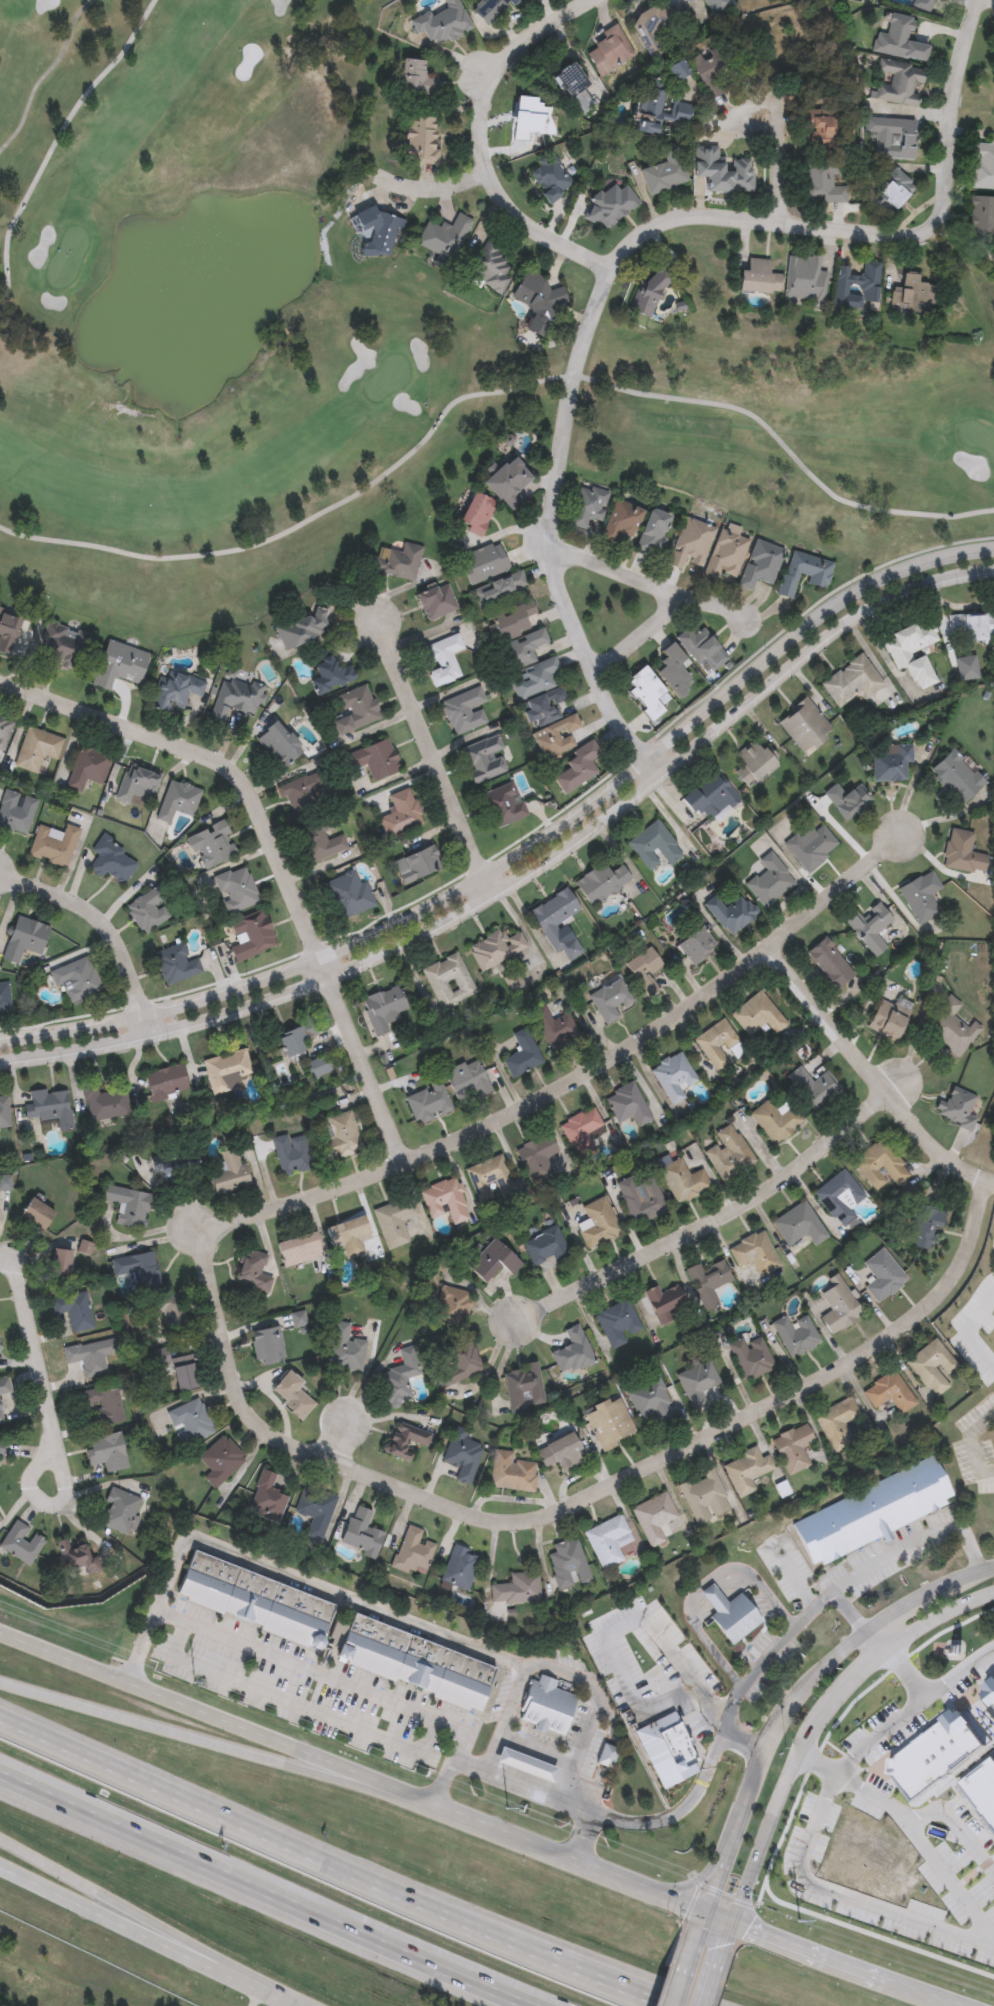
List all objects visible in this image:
building: (690, 1)
building: (925, 4)
building: (719, 7)
building: (491, 10)
building: (444, 25)
building: (656, 29)
building: (899, 41)
building: (781, 45)
building: (610, 52)
building: (710, 68)
building: (678, 72)
road: (45, 77)
building: (414, 80)
building: (899, 86)
building: (574, 88)
road: (776, 111)
building: (655, 112)
building: (826, 129)
building: (893, 138)
building: (420, 141)
road: (54, 143)
building: (983, 166)
building: (667, 173)
building: (723, 173)
building: (550, 180)
building: (823, 183)
road: (432, 188)
building: (895, 190)
building: (611, 206)
road: (684, 218)
building: (981, 221)
building: (379, 232)
building: (446, 238)
park: (67, 258)
building: (492, 269)
building: (759, 279)
building: (805, 281)
building: (858, 289)
building: (913, 297)
building: (538, 303)
park: (352, 342)
park: (388, 379)
road: (490, 394)
park: (978, 438)
building: (508, 485)
building: (587, 508)
building: (476, 516)
road: (553, 524)
building: (620, 524)
building: (654, 535)
building: (690, 546)
building: (725, 557)
building: (396, 564)
building: (482, 566)
building: (760, 567)
building: (803, 575)
road: (648, 585)
building: (499, 591)
building: (435, 603)
building: (512, 623)
building: (971, 630)
building: (301, 632)
building: (7, 633)
road: (642, 638)
building: (63, 649)
building: (700, 650)
building: (522, 652)
building: (912, 654)
building: (440, 662)
building: (117, 667)
building: (672, 672)
building: (328, 675)
building: (533, 682)
building: (851, 683)
building: (173, 692)
building: (644, 694)
building: (235, 700)
building: (354, 712)
building: (464, 713)
building: (4, 734)
building: (278, 747)
building: (36, 752)
building: (375, 761)
road: (435, 761)
building: (88, 769)
road: (654, 770)
building: (135, 787)
building: (301, 795)
building: (177, 803)
building: (16, 814)
building: (400, 816)
road: (275, 851)
road: (526, 851)
road: (527, 877)
road: (105, 925)
building: (880, 1024)
building: (942, 1037)
road: (878, 1072)
road: (580, 1082)
building: (799, 1094)
building: (949, 1113)
building: (767, 1127)
building: (729, 1153)
building: (290, 1155)
building: (536, 1159)
building: (175, 1165)
building: (869, 1168)
building: (230, 1173)
building: (489, 1178)
building: (682, 1179)
building: (5, 1183)
building: (641, 1198)
building: (445, 1200)
building: (832, 1203)
building: (129, 1205)
building: (36, 1213)
building: (394, 1222)
building: (598, 1223)
building: (791, 1230)
road: (707, 1231)
building: (917, 1233)
building: (350, 1236)
building: (545, 1246)
building: (300, 1250)
building: (745, 1260)
building: (493, 1262)
building: (60, 1263)
road: (8, 1264)
building: (138, 1270)
building: (253, 1271)
building: (873, 1282)
building: (709, 1283)
building: (697, 1290)
building: (453, 1304)
building: (658, 1306)
building: (838, 1306)
building: (171, 1310)
building: (73, 1311)
building: (297, 1319)
building: (617, 1323)
building: (795, 1335)
building: (267, 1346)
building: (345, 1348)
building: (0, 1349)
building: (573, 1351)
building: (90, 1357)
building: (751, 1357)
building: (460, 1363)
road: (36, 1369)
building: (183, 1373)
building: (923, 1373)
building: (400, 1378)
building: (697, 1382)
building: (523, 1388)
building: (291, 1394)
building: (4, 1396)
building: (881, 1399)
building: (650, 1401)
building: (102, 1404)
building: (190, 1422)
building: (609, 1423)
building: (829, 1428)
road: (346, 1430)
building: (404, 1441)
road: (974, 1444)
building: (1, 1448)
building: (108, 1452)
building: (559, 1452)
building: (461, 1456)
building: (785, 1456)
building: (220, 1461)
building: (511, 1472)
building: (737, 1477)
building: (267, 1498)
road: (24, 1500)
building: (695, 1502)
road: (586, 1503)
building: (120, 1511)
building: (314, 1512)
building: (871, 1512)
building: (0, 1519)
building: (648, 1523)
building: (361, 1533)
building: (21, 1542)
road: (919, 1546)
building: (600, 1547)
building: (411, 1551)
building: (76, 1557)
building: (459, 1568)
building: (560, 1570)
road: (320, 1588)
building: (508, 1595)
building: (256, 1601)
building: (731, 1618)
road: (788, 1636)
road: (877, 1648)
road: (141, 1650)
road: (614, 1659)
building: (410, 1662)
road: (563, 1674)
road: (905, 1677)
road: (324, 1680)
building: (990, 1693)
road: (804, 1702)
road: (296, 1706)
road: (193, 1709)
park: (979, 1713)
building: (537, 1715)
road: (896, 1722)
road: (822, 1726)
road: (194, 1731)
building: (667, 1752)
building: (608, 1756)
building: (934, 1757)
building: (598, 1763)
building: (525, 1766)
gas station: (525, 1766)
road: (524, 1790)
building: (981, 1790)
road: (697, 1792)
road: (958, 1824)
road: (926, 1848)
road: (547, 1851)
road: (326, 1865)
road: (702, 1879)
road: (78, 1885)
traffic signals: (717, 1892)
road: (253, 1895)
road: (845, 1895)
road: (719, 1920)
road: (703, 1928)
traffic signals: (746, 1932)
road: (146, 1935)
road: (725, 1938)
traffic signals: (723, 1946)
road: (808, 1956)
road: (685, 1974)
road: (711, 1979)
road: (916, 1995)

